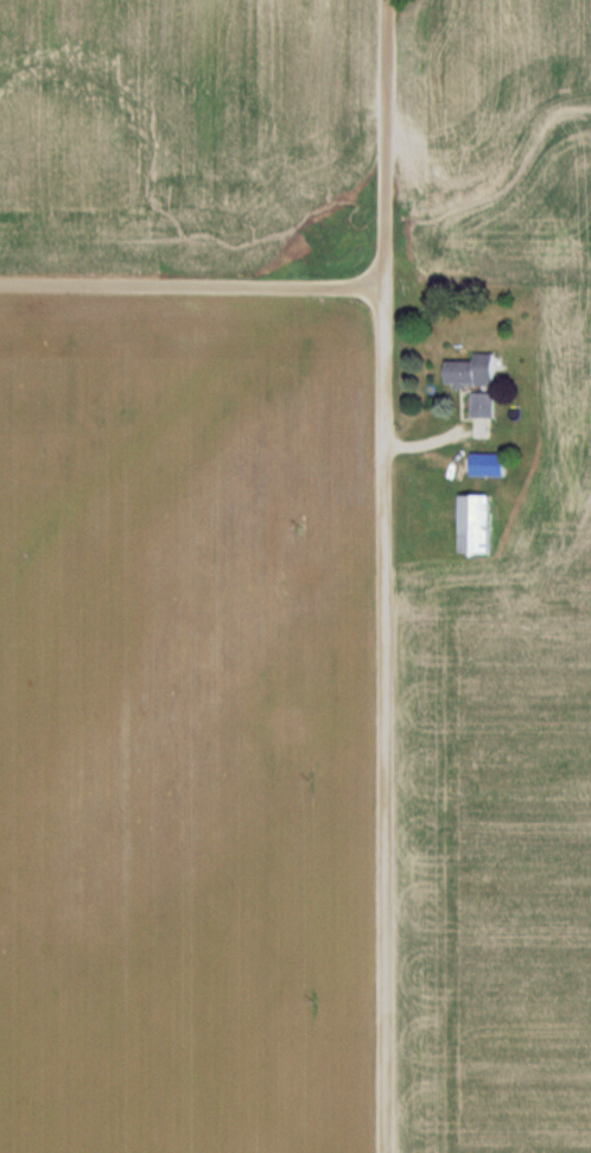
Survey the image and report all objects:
road: (192, 286)
building: (476, 369)
building: (485, 404)
building: (490, 464)
building: (478, 524)
road: (383, 576)

